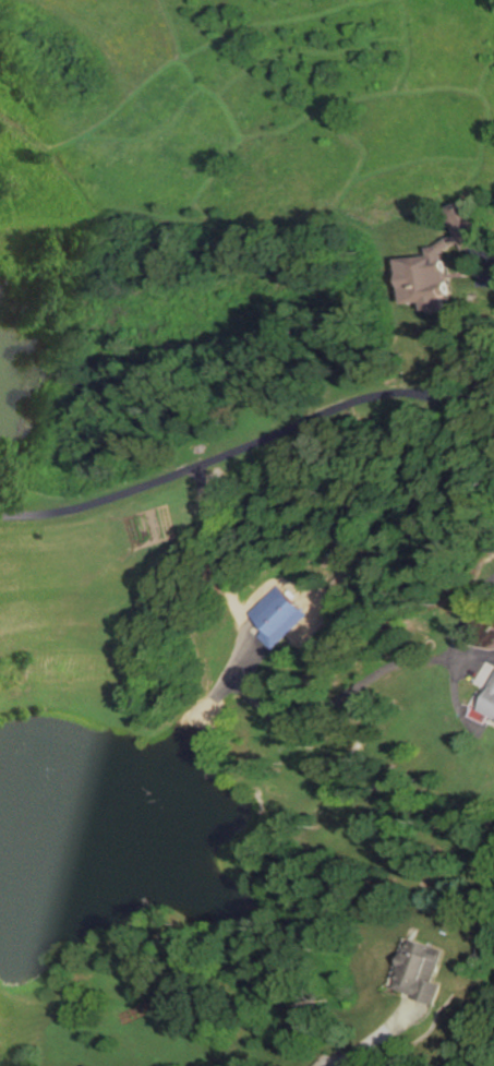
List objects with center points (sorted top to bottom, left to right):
building: (422, 278)
road: (246, 446)
building: (275, 615)
road: (459, 623)
building: (486, 699)
building: (415, 972)

